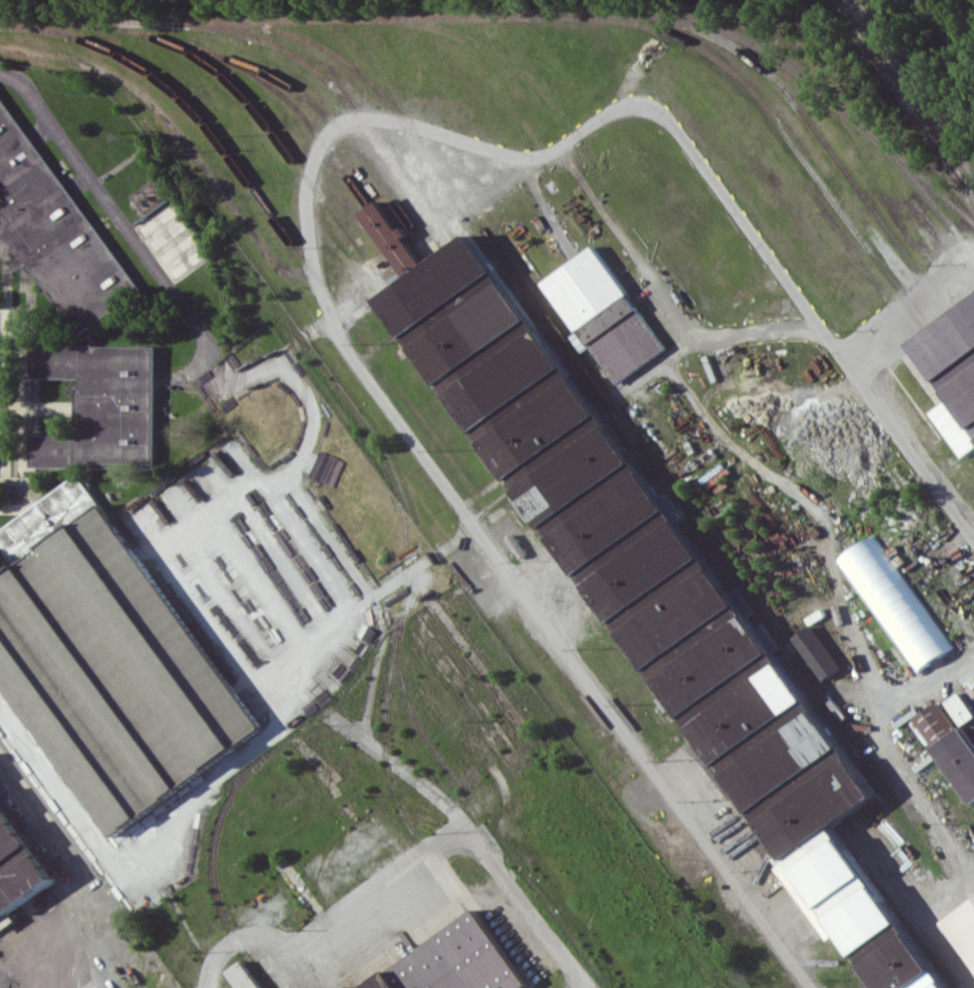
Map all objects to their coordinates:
railway: (521, 13)
railway: (327, 84)
railway: (915, 91)
railway: (905, 93)
railway: (306, 95)
railway: (295, 107)
railway: (257, 108)
railway: (208, 124)
railway: (776, 124)
railway: (814, 129)
railway: (423, 167)
railway: (922, 190)
road: (305, 191)
road: (118, 218)
building: (52, 228)
railway: (538, 305)
road: (913, 310)
building: (603, 314)
road: (740, 332)
railway: (962, 334)
road: (291, 346)
building: (955, 356)
railway: (953, 361)
road: (661, 365)
building: (102, 406)
railway: (651, 495)
road: (298, 497)
railway: (638, 504)
road: (423, 562)
building: (651, 582)
railway: (654, 597)
building: (894, 603)
railway: (643, 640)
building: (817, 651)
building: (107, 659)
building: (962, 708)
building: (948, 744)
road: (469, 829)
road: (144, 856)
building: (17, 869)
road: (361, 894)
building: (7, 921)
building: (964, 924)
road: (235, 939)
building: (454, 962)
building: (244, 975)

